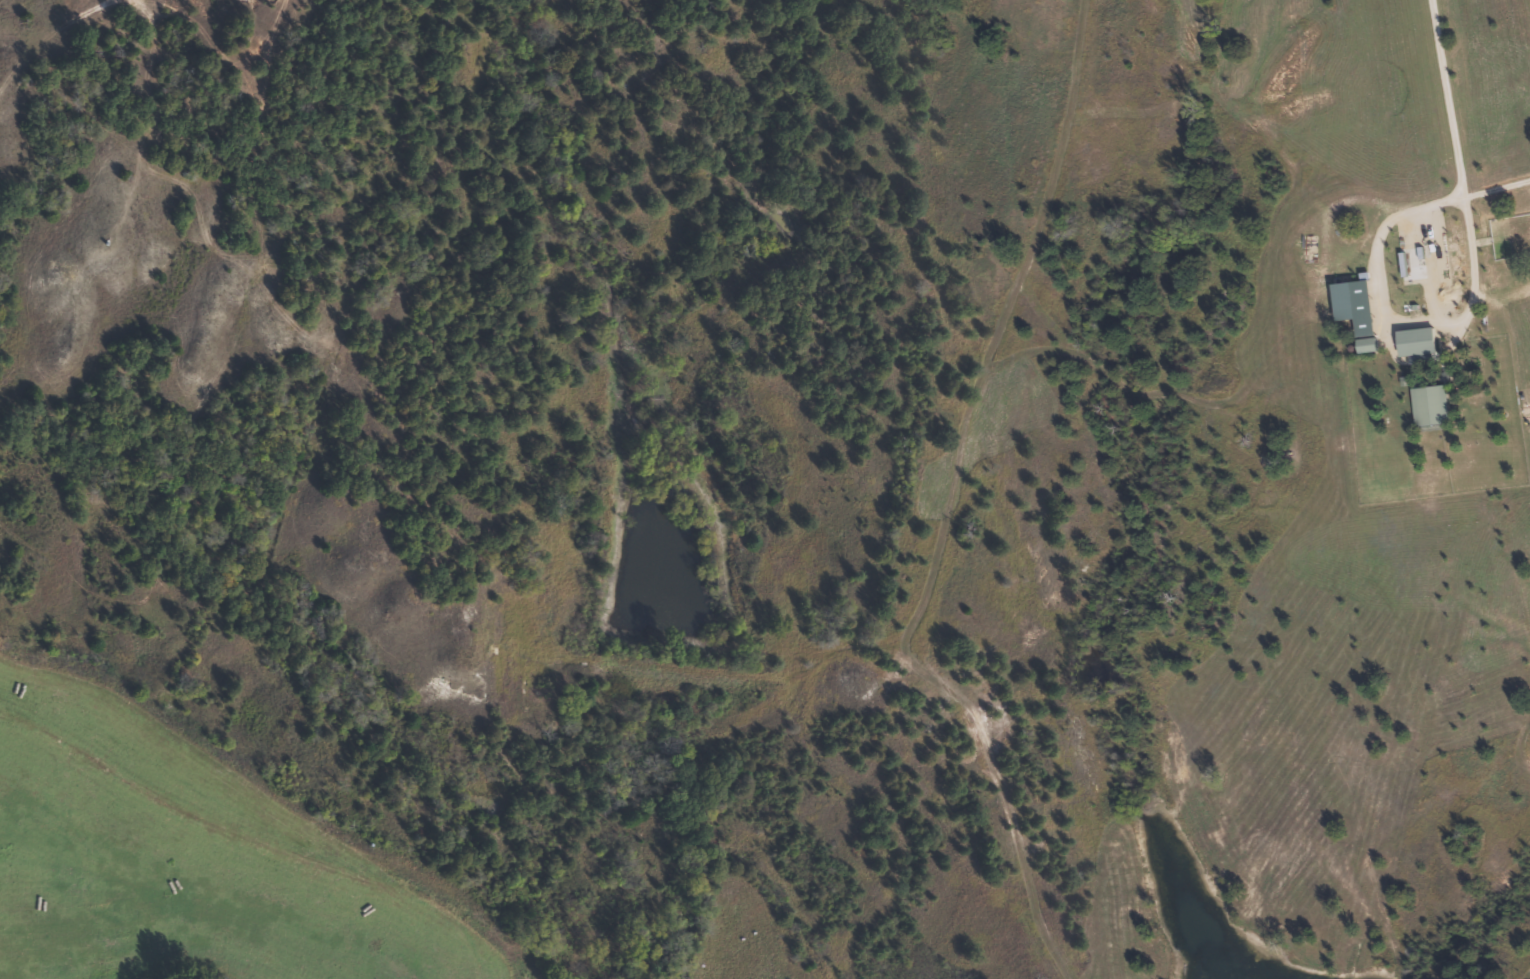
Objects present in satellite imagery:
building: (1365, 345)
building: (1428, 405)

